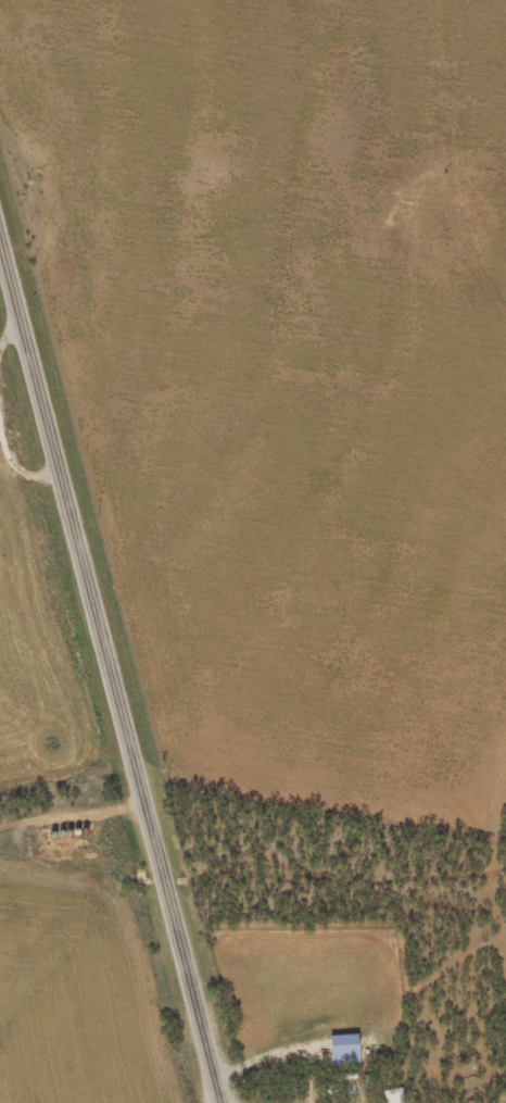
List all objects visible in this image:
road: (102, 704)
building: (341, 1057)

